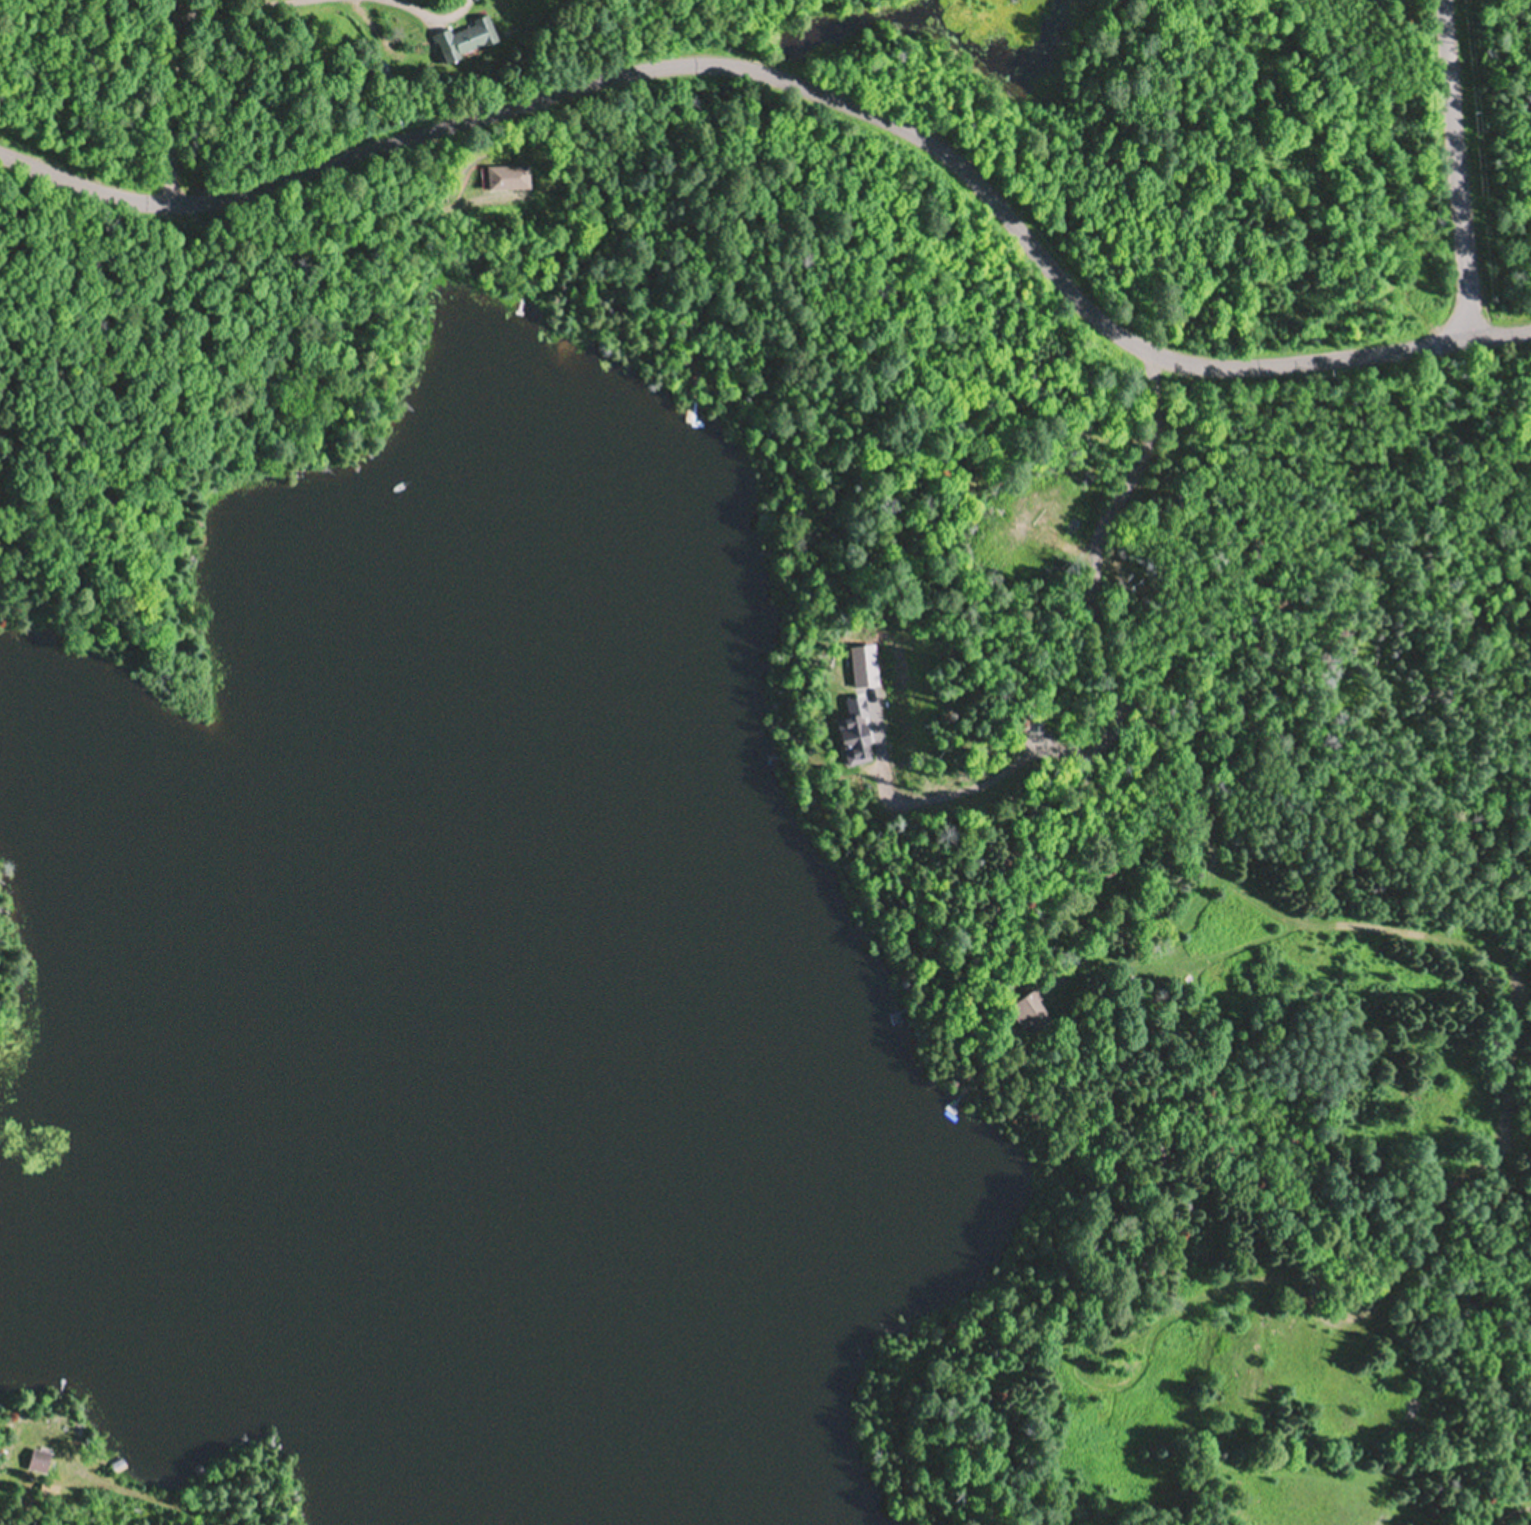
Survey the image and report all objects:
road: (798, 77)
park: (86, 88)
road: (168, 102)
road: (1457, 166)
road: (1130, 688)

